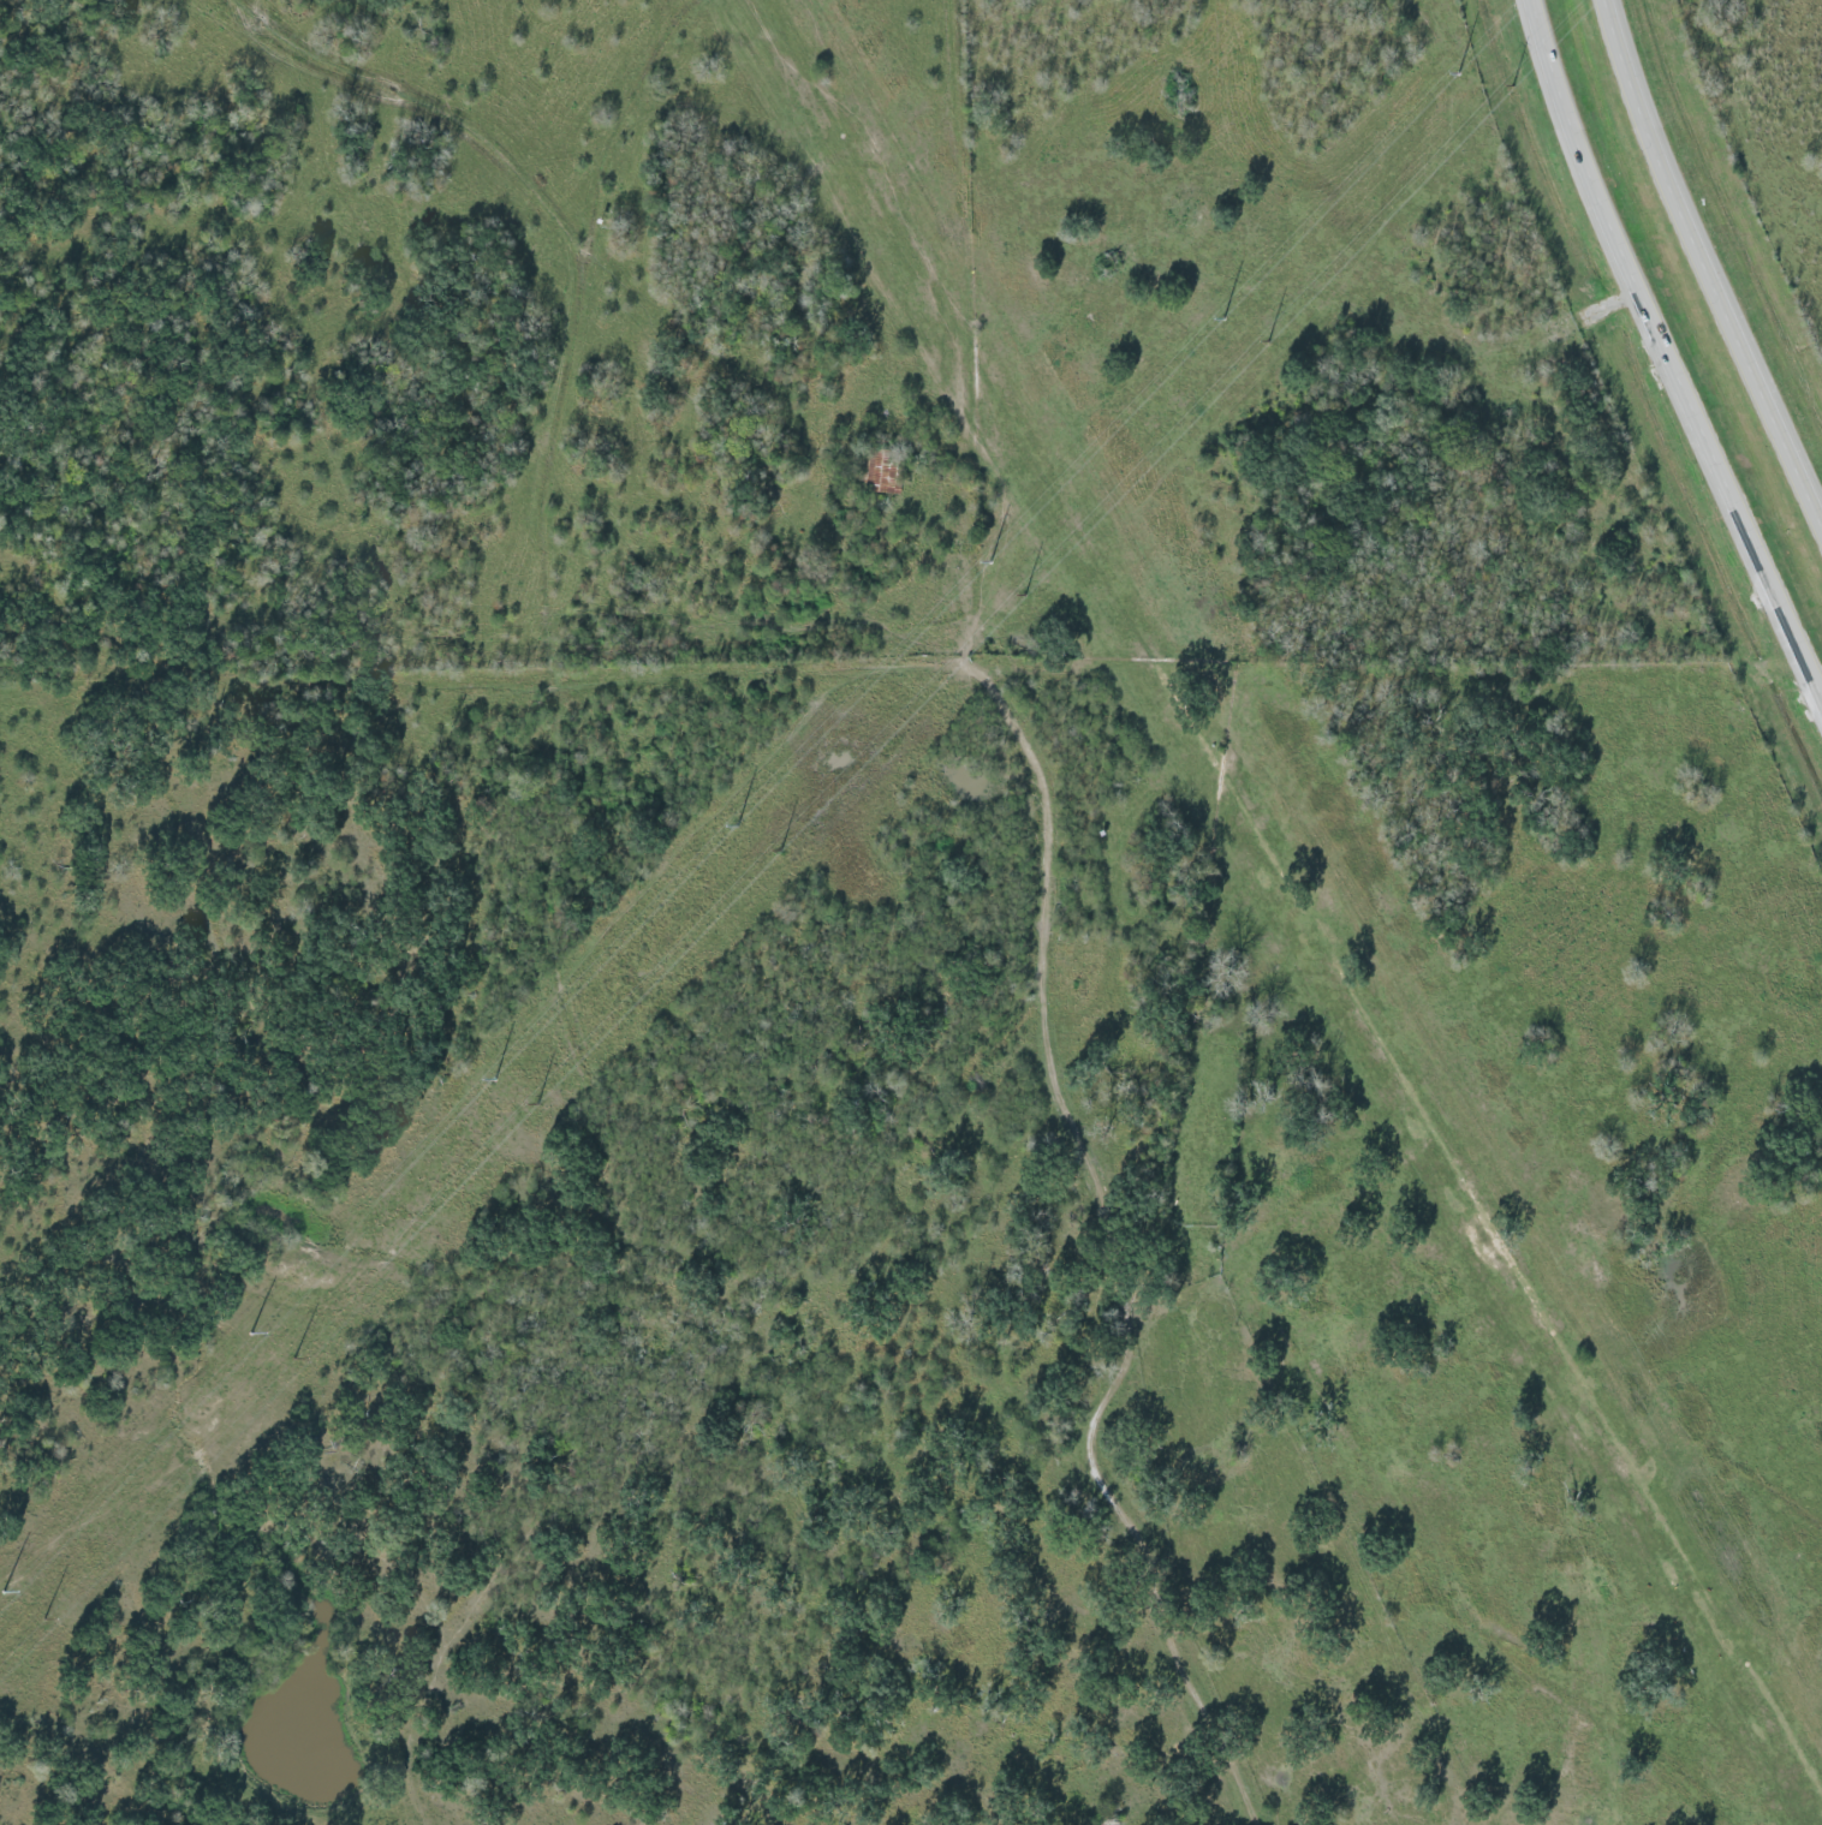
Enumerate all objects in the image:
power tower: (1463, 68)
road: (1704, 263)
power tower: (1228, 314)
road: (1668, 341)
power tower: (984, 568)
power tower: (742, 823)
power tower: (499, 1075)
power tower: (256, 1330)
road: (1102, 1522)
power tower: (8, 1590)

